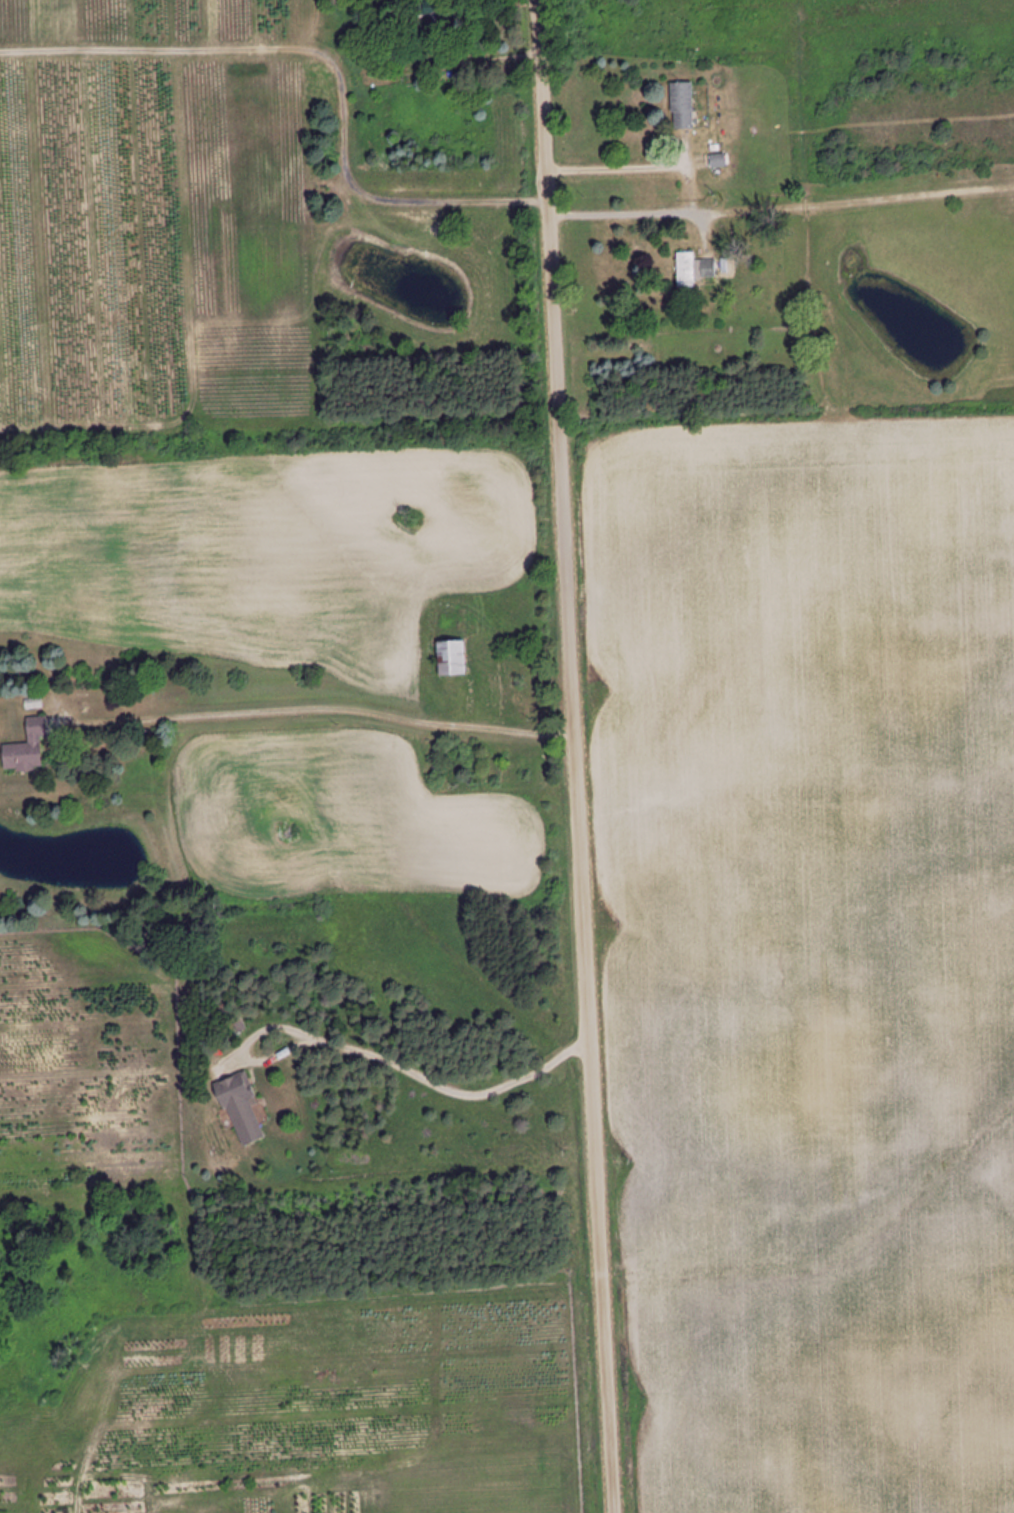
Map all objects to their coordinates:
building: (437, 12)
building: (681, 106)
building: (717, 160)
building: (692, 269)
building: (450, 658)
building: (25, 748)
road: (570, 756)
crop: (814, 947)
building: (239, 1108)

